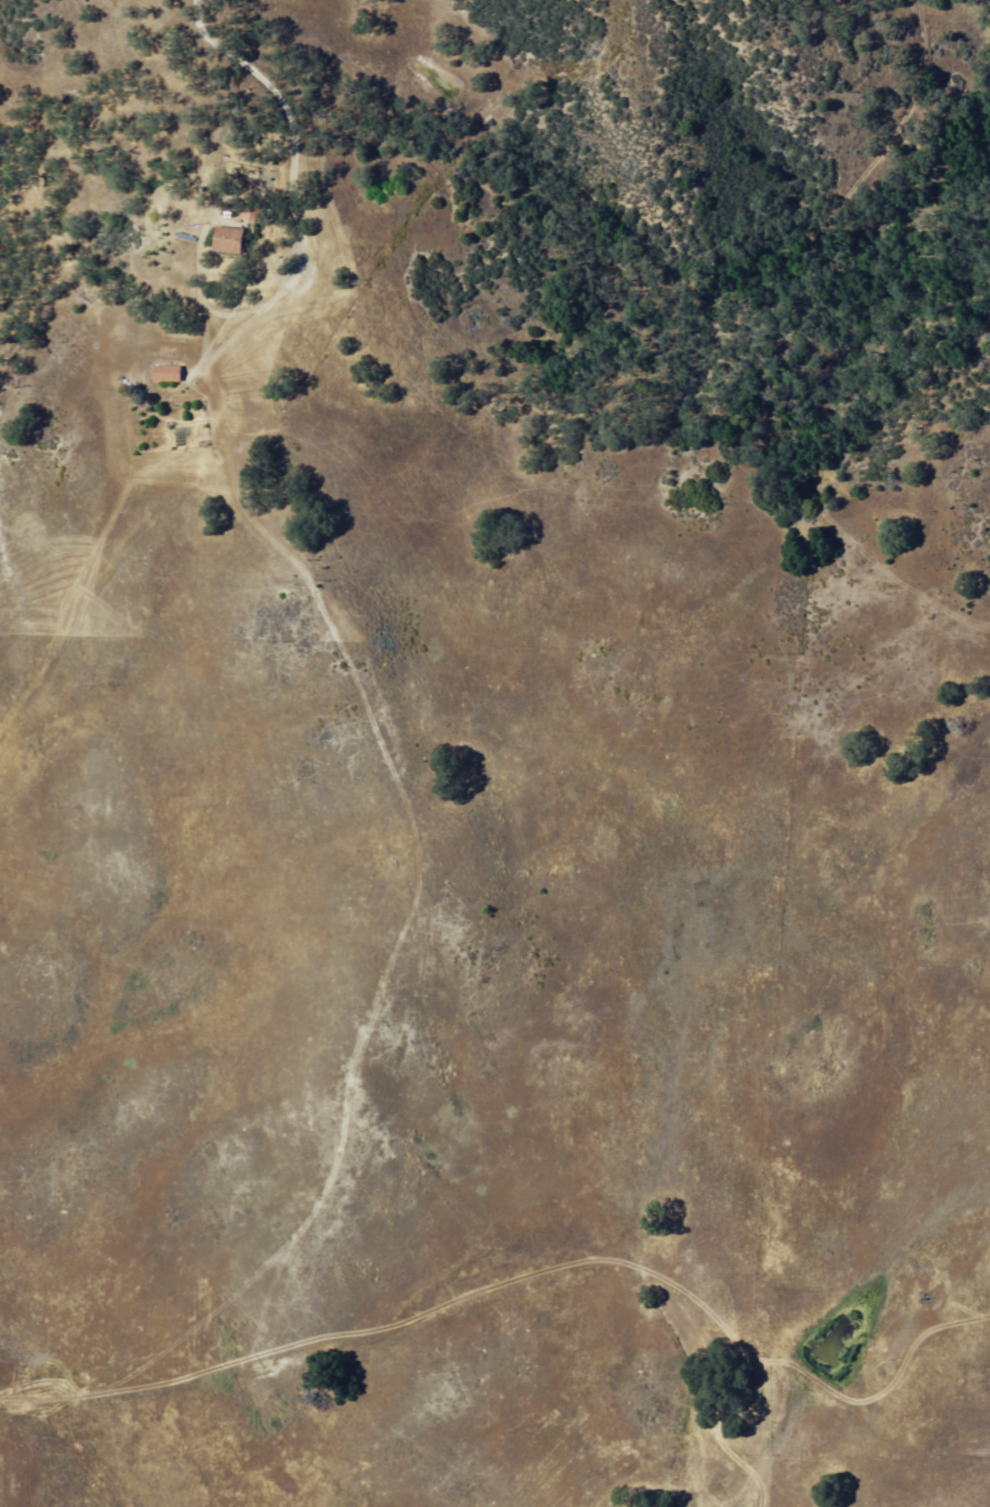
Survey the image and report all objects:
road: (292, 189)
building: (255, 213)
building: (231, 239)
building: (170, 373)
road: (472, 1297)

